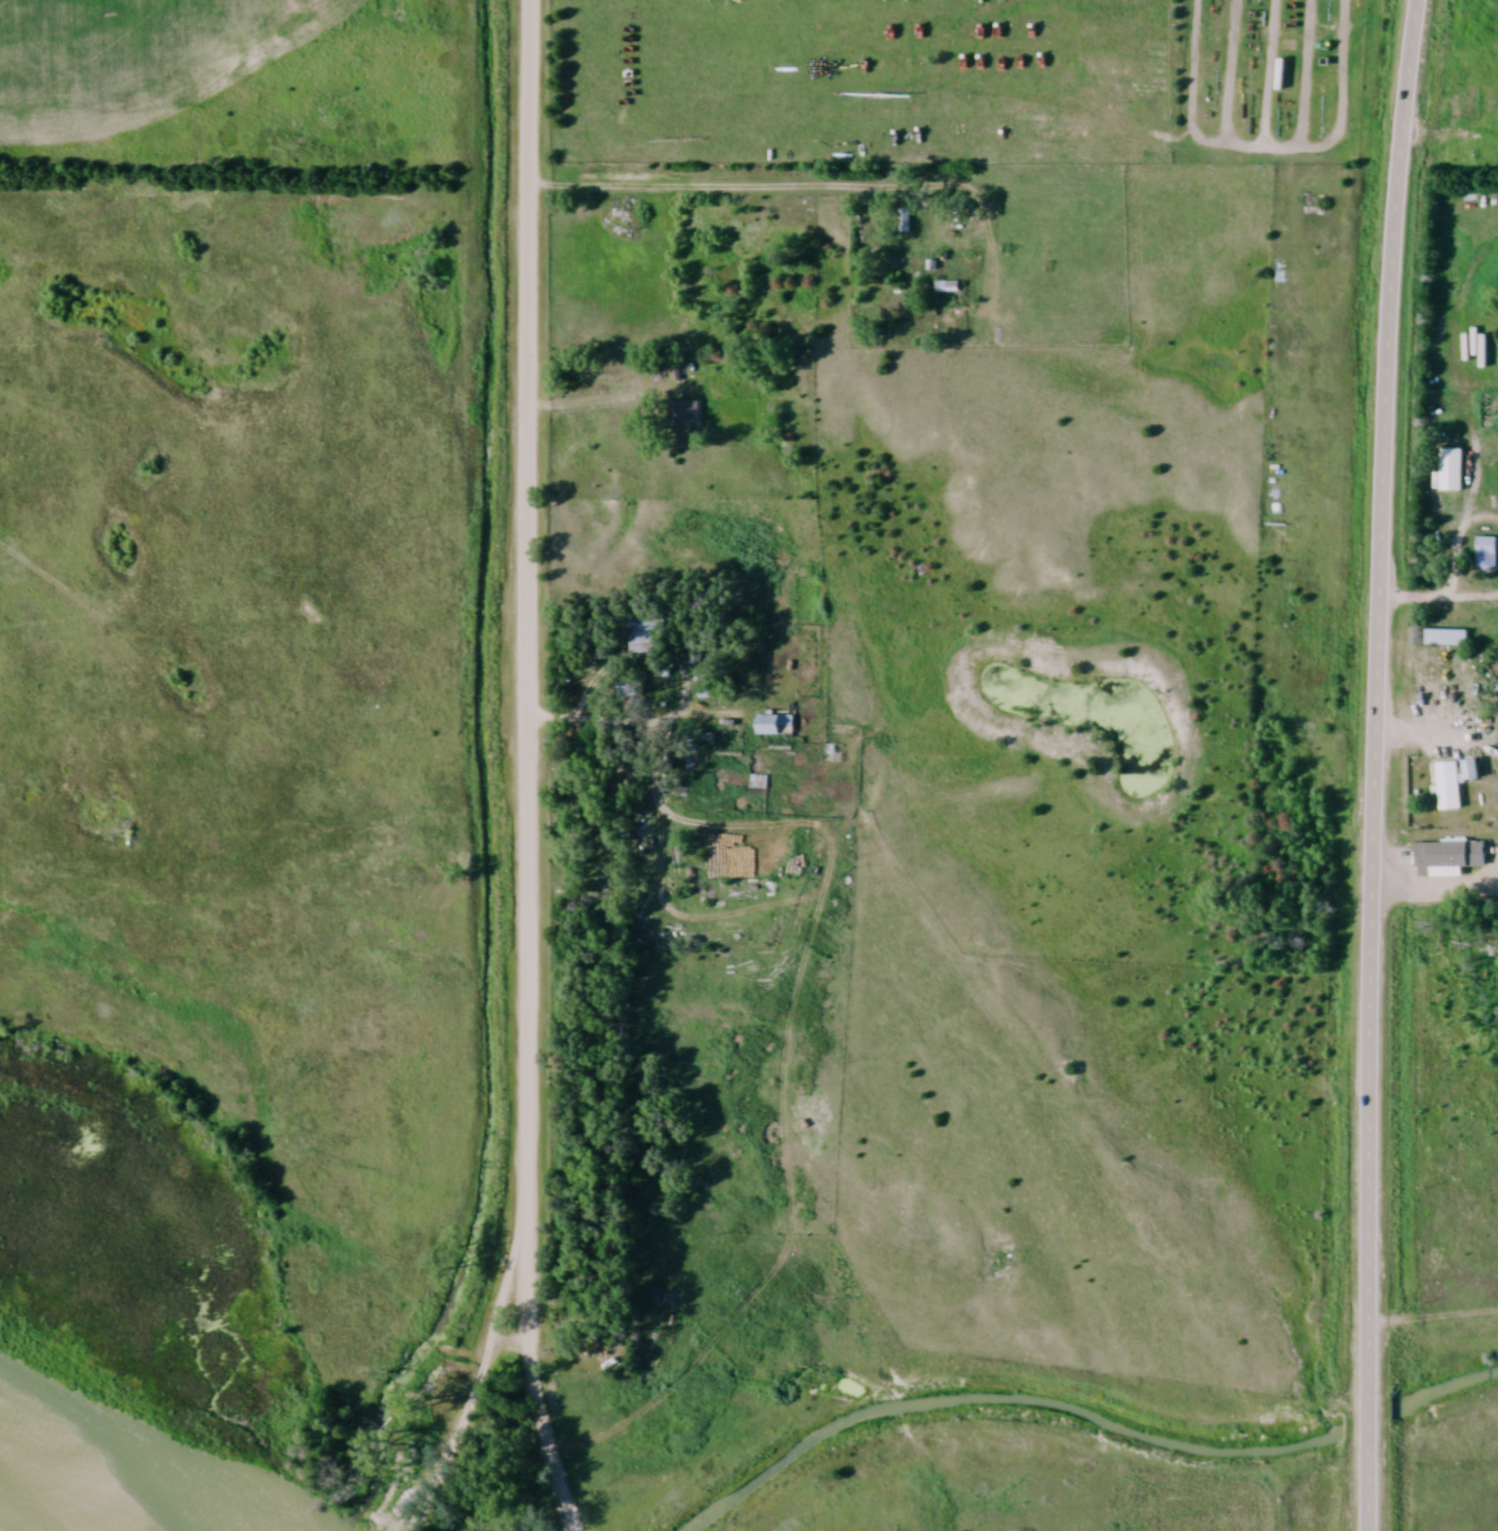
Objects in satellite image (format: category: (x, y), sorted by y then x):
building: (1251, 108)
road: (693, 190)
building: (743, 218)
building: (906, 222)
road: (901, 252)
building: (974, 256)
building: (947, 289)
road: (588, 407)
building: (686, 415)
building: (1453, 471)
building: (1487, 555)
road: (526, 620)
building: (649, 636)
building: (1446, 640)
road: (1379, 690)
road: (615, 722)
building: (777, 727)
building: (833, 755)
building: (1455, 784)
building: (1449, 860)
road: (512, 1343)
road: (473, 1389)
road: (535, 1389)
road: (1366, 1421)
road: (1364, 1495)

